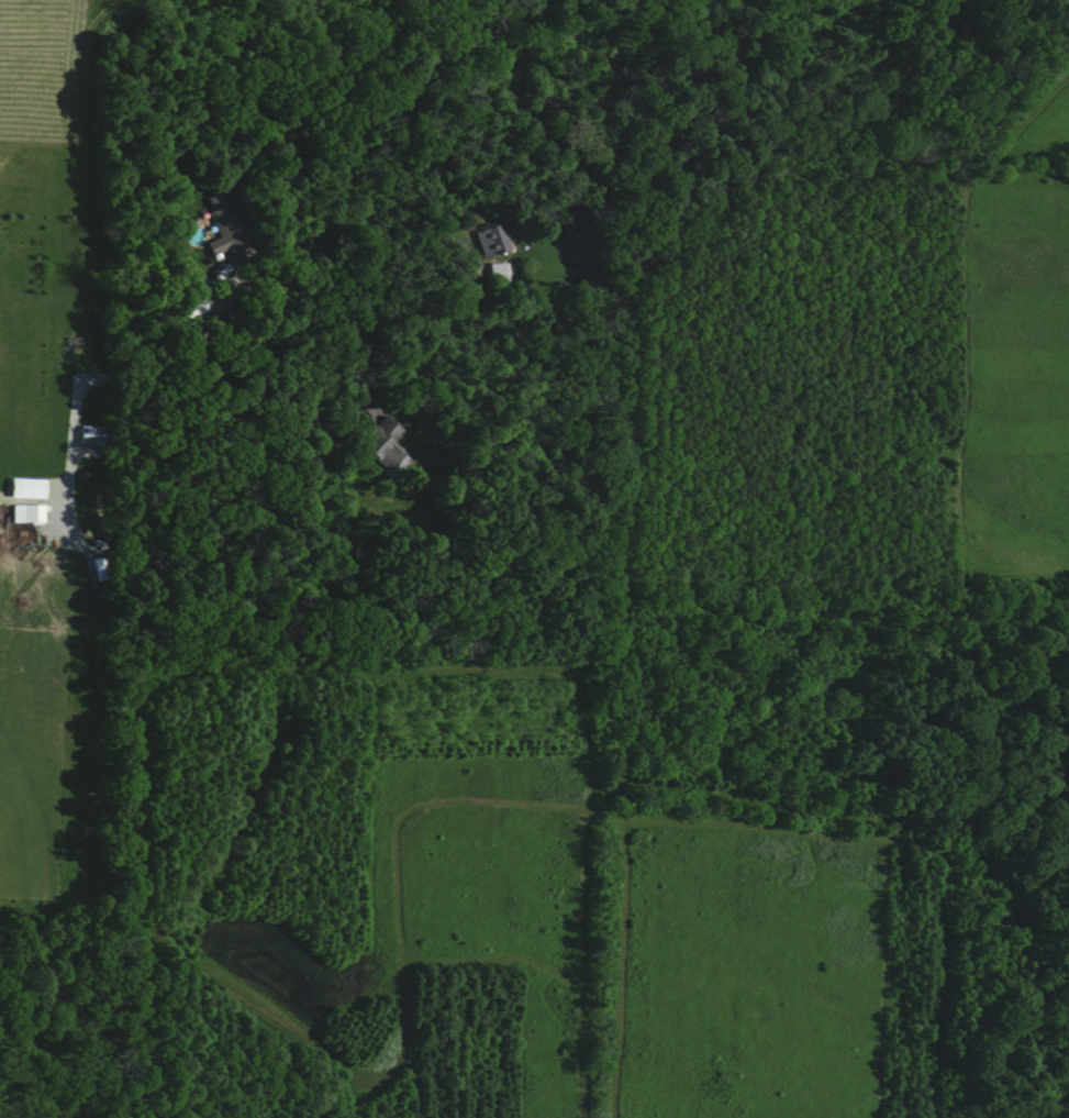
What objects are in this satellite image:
building: (221, 222)
building: (489, 240)
road: (415, 266)
building: (495, 270)
road: (280, 283)
building: (196, 300)
building: (379, 442)
building: (23, 490)
building: (30, 512)

